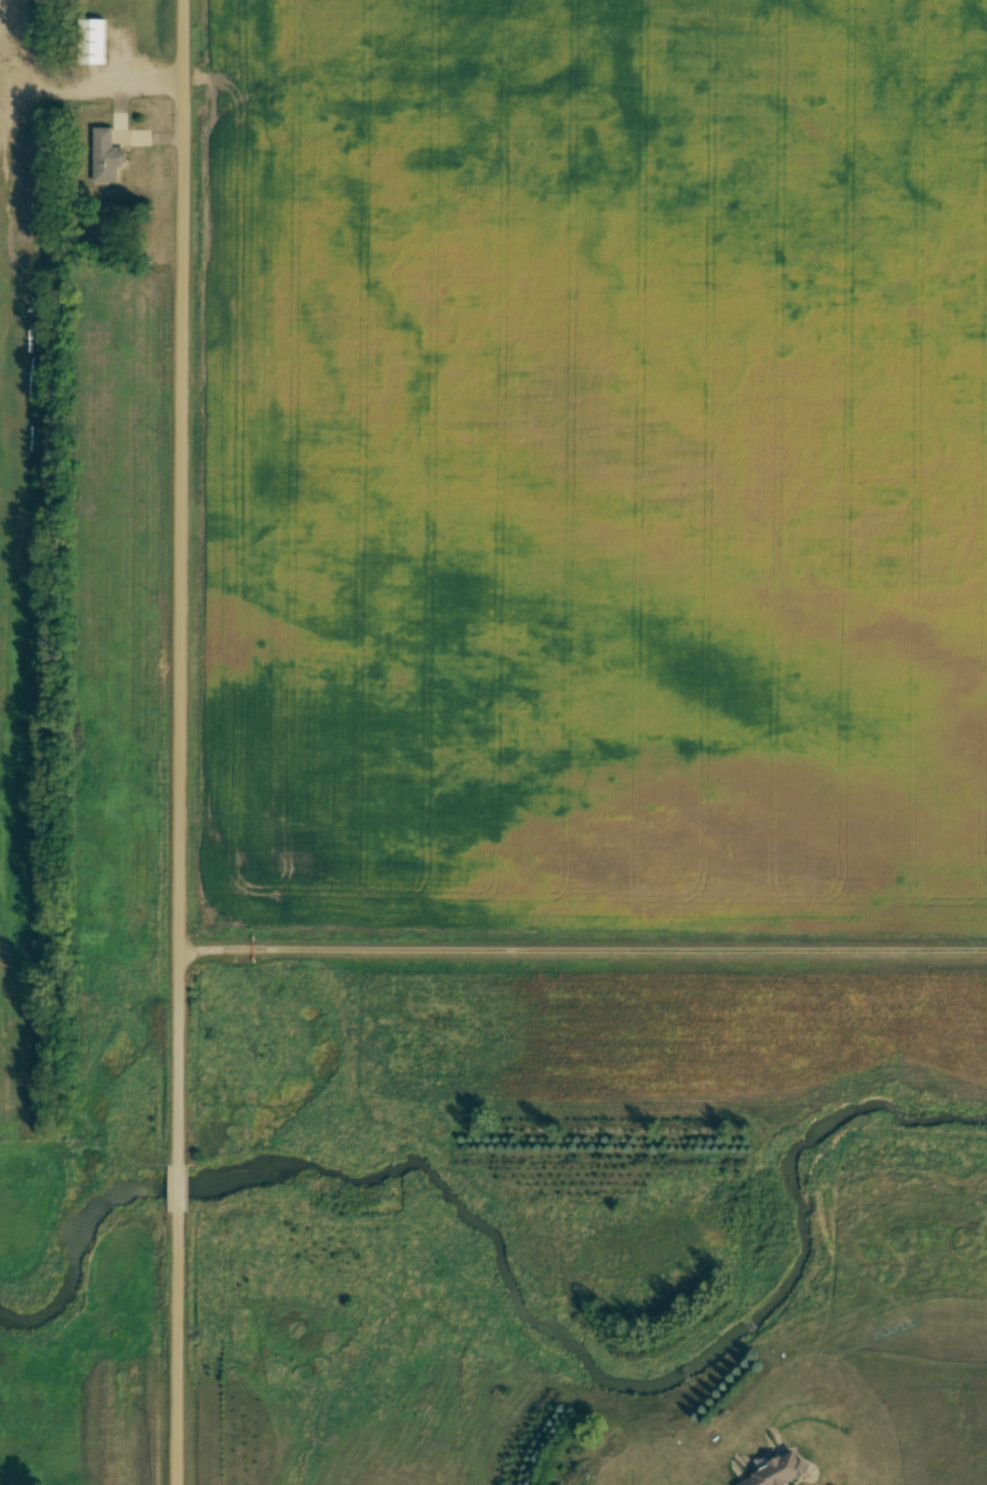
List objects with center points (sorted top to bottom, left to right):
building: (94, 44)
building: (105, 157)
road: (178, 742)
road: (582, 946)
building: (777, 1474)

